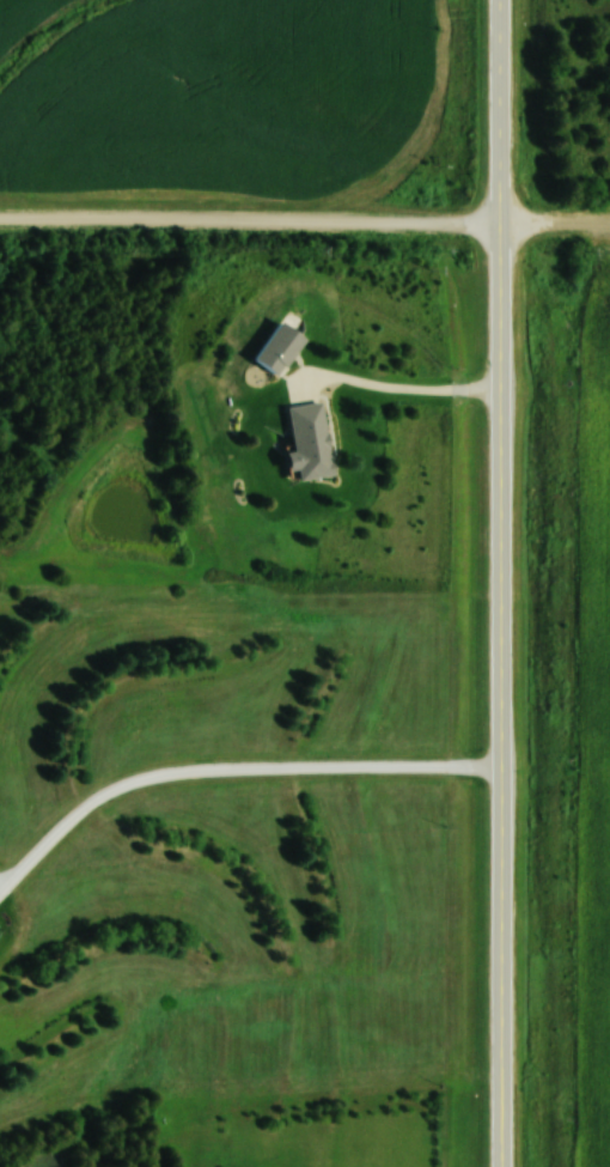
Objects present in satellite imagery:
road: (305, 225)
building: (281, 346)
road: (402, 393)
building: (311, 439)
road: (502, 583)
road: (228, 773)

